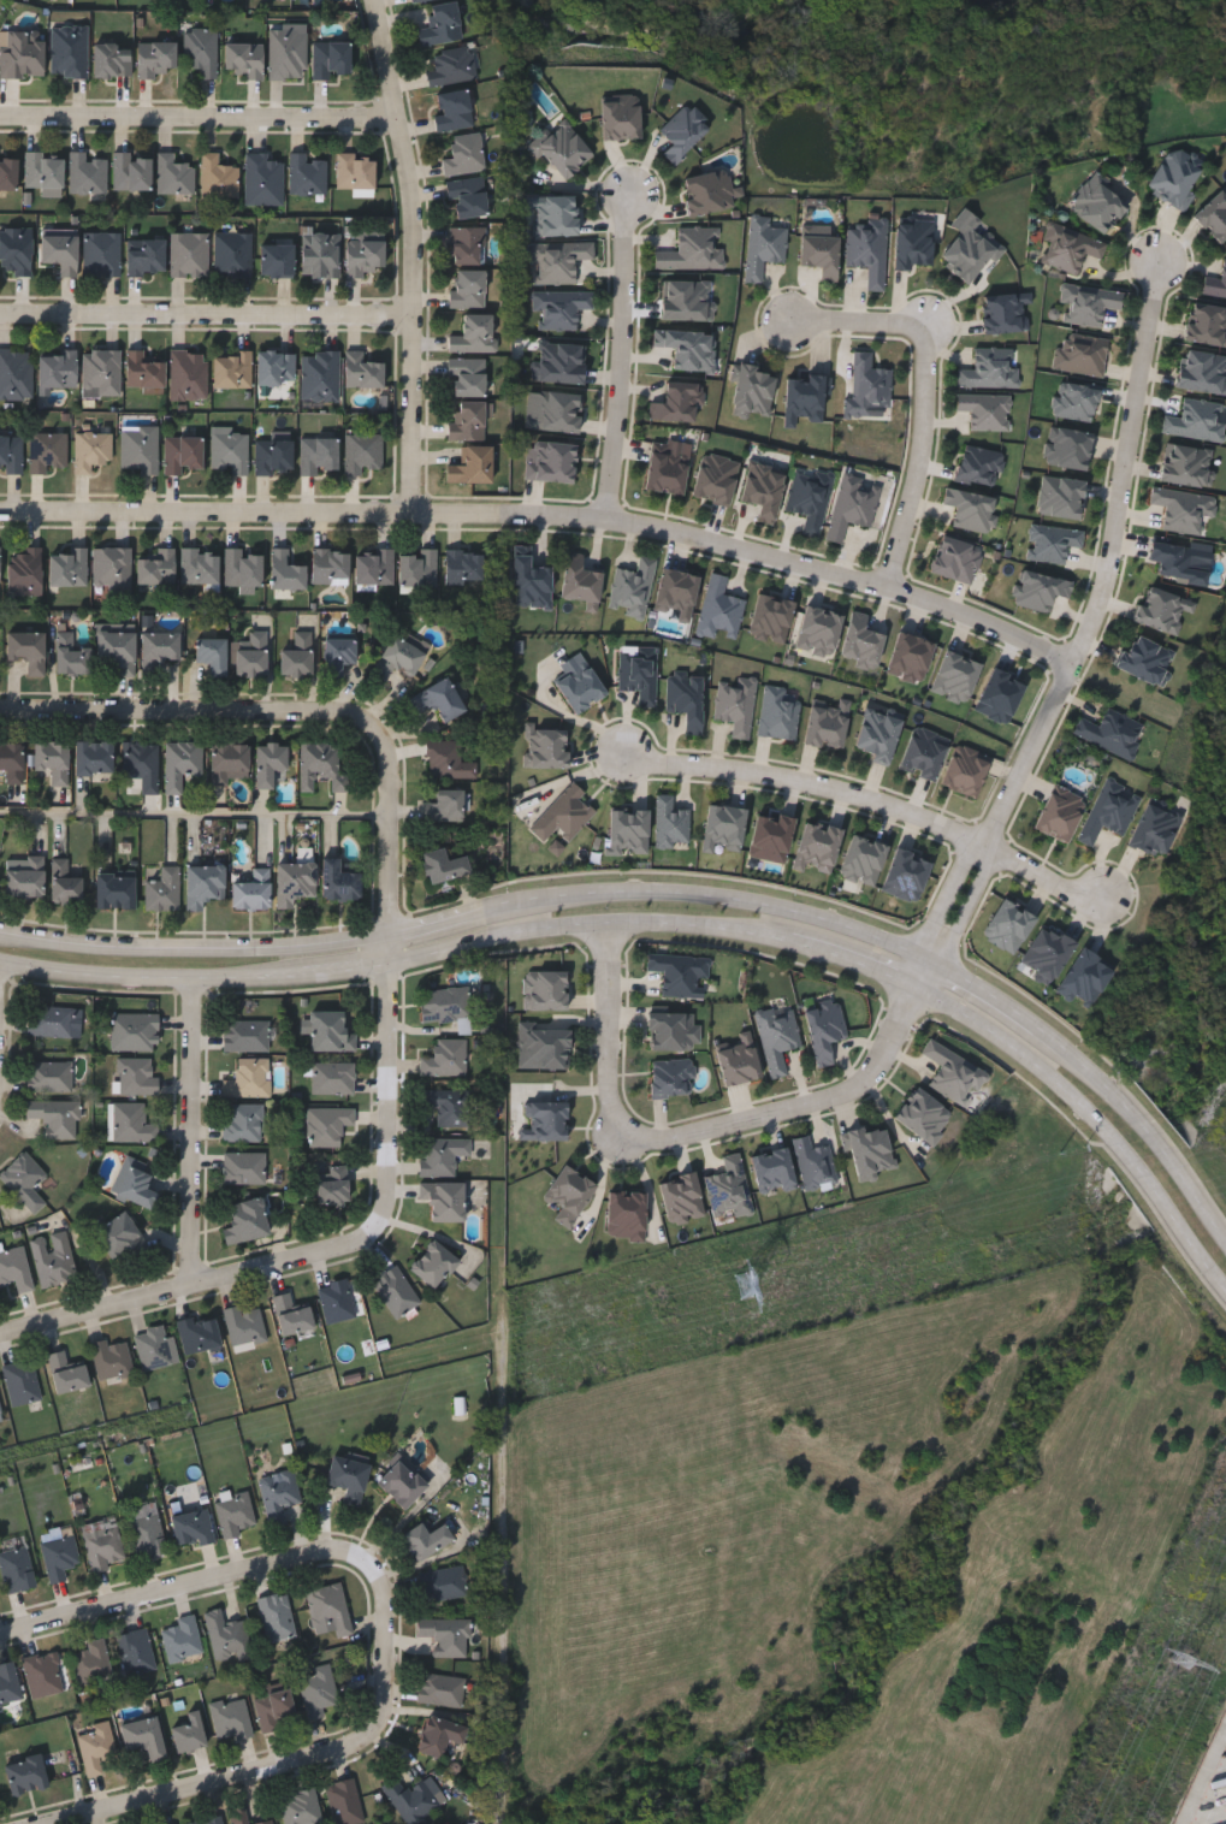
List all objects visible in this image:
building: (420, 1)
building: (0, 8)
building: (440, 25)
building: (69, 52)
building: (202, 52)
building: (288, 54)
building: (23, 55)
building: (156, 59)
building: (112, 60)
building: (244, 60)
building: (331, 60)
building: (450, 66)
park: (928, 67)
building: (454, 111)
road: (203, 124)
building: (681, 134)
building: (466, 155)
building: (134, 172)
building: (356, 172)
building: (8, 173)
building: (45, 174)
building: (87, 174)
building: (308, 174)
building: (174, 176)
building: (218, 178)
building: (265, 179)
building: (468, 197)
building: (1214, 218)
building: (468, 245)
building: (763, 247)
building: (969, 249)
building: (16, 251)
building: (689, 251)
building: (60, 254)
building: (233, 254)
building: (866, 254)
building: (103, 255)
building: (190, 255)
building: (320, 255)
building: (819, 255)
building: (363, 256)
road: (419, 256)
building: (148, 259)
building: (277, 261)
building: (468, 289)
building: (1088, 304)
building: (559, 307)
road: (208, 316)
road: (855, 321)
building: (474, 334)
road: (624, 359)
building: (276, 368)
building: (57, 371)
building: (144, 371)
building: (232, 371)
building: (363, 372)
building: (102, 374)
building: (16, 375)
building: (190, 375)
building: (321, 377)
building: (468, 378)
building: (867, 387)
building: (751, 391)
building: (804, 398)
building: (468, 421)
building: (1194, 422)
building: (140, 450)
building: (48, 451)
building: (93, 451)
building: (230, 451)
building: (365, 454)
building: (11, 455)
building: (183, 455)
building: (319, 457)
building: (274, 458)
road: (922, 461)
building: (551, 463)
building: (473, 467)
building: (1185, 467)
building: (665, 470)
building: (1059, 498)
building: (851, 505)
building: (1179, 510)
road: (547, 517)
building: (954, 558)
building: (1178, 561)
building: (200, 564)
road: (1110, 564)
building: (0, 565)
building: (331, 565)
building: (464, 565)
building: (69, 567)
building: (158, 567)
building: (374, 567)
building: (420, 567)
building: (112, 569)
building: (244, 569)
building: (25, 570)
building: (286, 570)
building: (579, 582)
building: (675, 592)
building: (1160, 609)
building: (718, 610)
building: (26, 645)
building: (160, 645)
building: (119, 650)
building: (213, 653)
building: (339, 653)
building: (71, 655)
building: (253, 656)
building: (297, 656)
building: (399, 656)
building: (1144, 658)
building: (579, 687)
building: (999, 695)
building: (440, 698)
building: (734, 705)
building: (777, 712)
road: (294, 715)
building: (825, 724)
building: (1110, 732)
building: (877, 735)
building: (94, 757)
building: (449, 759)
building: (12, 760)
building: (53, 760)
building: (230, 760)
building: (270, 760)
building: (142, 763)
building: (182, 763)
building: (321, 765)
road: (876, 801)
building: (446, 805)
road: (194, 813)
building: (562, 815)
building: (770, 836)
building: (444, 865)
building: (25, 877)
building: (295, 881)
building: (339, 881)
building: (67, 882)
building: (205, 884)
building: (116, 890)
building: (164, 890)
building: (253, 890)
road: (699, 890)
road: (948, 894)
road: (969, 905)
road: (431, 925)
road: (679, 925)
road: (195, 954)
road: (931, 958)
road: (917, 970)
building: (677, 972)
road: (931, 976)
building: (544, 990)
road: (993, 990)
building: (445, 1005)
building: (48, 1020)
road: (609, 1025)
building: (671, 1030)
building: (823, 1030)
building: (132, 1032)
building: (328, 1032)
building: (244, 1036)
road: (0, 1037)
building: (776, 1037)
building: (541, 1043)
building: (445, 1058)
road: (0, 1067)
building: (48, 1076)
building: (135, 1076)
building: (670, 1077)
building: (332, 1078)
building: (248, 1079)
road: (798, 1105)
building: (449, 1107)
building: (54, 1118)
building: (544, 1120)
road: (1142, 1121)
building: (242, 1123)
building: (131, 1124)
building: (327, 1125)
road: (196, 1133)
building: (442, 1155)
building: (813, 1162)
building: (243, 1168)
building: (772, 1171)
building: (24, 1182)
road: (391, 1184)
building: (331, 1185)
building: (135, 1188)
building: (568, 1195)
building: (443, 1202)
building: (245, 1221)
building: (117, 1236)
building: (52, 1259)
building: (432, 1265)
building: (14, 1271)
building: (395, 1292)
building: (336, 1301)
power tower: (665, 1307)
road: (97, 1311)
building: (290, 1315)
building: (244, 1327)
building: (197, 1334)
building: (154, 1348)
building: (111, 1360)
building: (66, 1373)
building: (20, 1384)
building: (0, 1417)
building: (348, 1475)
building: (402, 1482)
building: (279, 1493)
building: (235, 1514)
building: (191, 1527)
building: (146, 1529)
building: (425, 1539)
building: (105, 1545)
building: (59, 1551)
building: (16, 1563)
road: (504, 1576)
building: (444, 1582)
road: (214, 1587)
building: (330, 1606)
building: (276, 1615)
building: (445, 1633)
building: (227, 1634)
building: (182, 1638)
building: (136, 1650)
power tower: (1191, 1659)
building: (91, 1660)
building: (43, 1672)
building: (8, 1682)
building: (442, 1688)
building: (319, 1689)
building: (273, 1706)
building: (231, 1717)
building: (189, 1731)
building: (439, 1734)
building: (144, 1735)
building: (96, 1747)
road: (296, 1770)
building: (26, 1773)
road: (1206, 1779)
building: (413, 1798)
building: (344, 1801)
building: (301, 1807)
building: (245, 1816)
building: (208, 1819)

